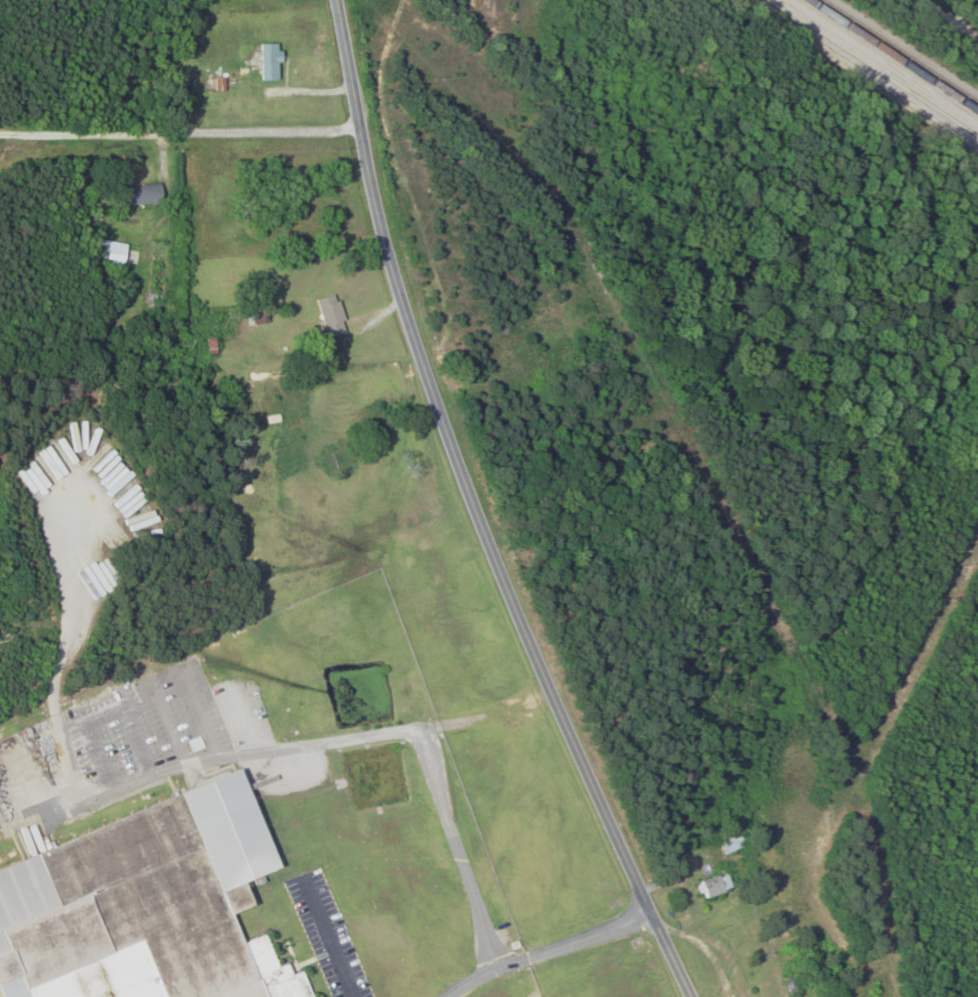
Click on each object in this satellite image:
railway: (901, 50)
railway: (894, 55)
building: (270, 61)
railway: (885, 61)
railway: (877, 66)
railway: (871, 73)
road: (180, 130)
building: (141, 194)
building: (110, 253)
building: (330, 316)
road: (474, 512)
road: (173, 671)
road: (105, 713)
road: (351, 738)
road: (70, 759)
building: (731, 843)
building: (713, 886)
building: (129, 920)
road: (330, 936)
road: (548, 950)

